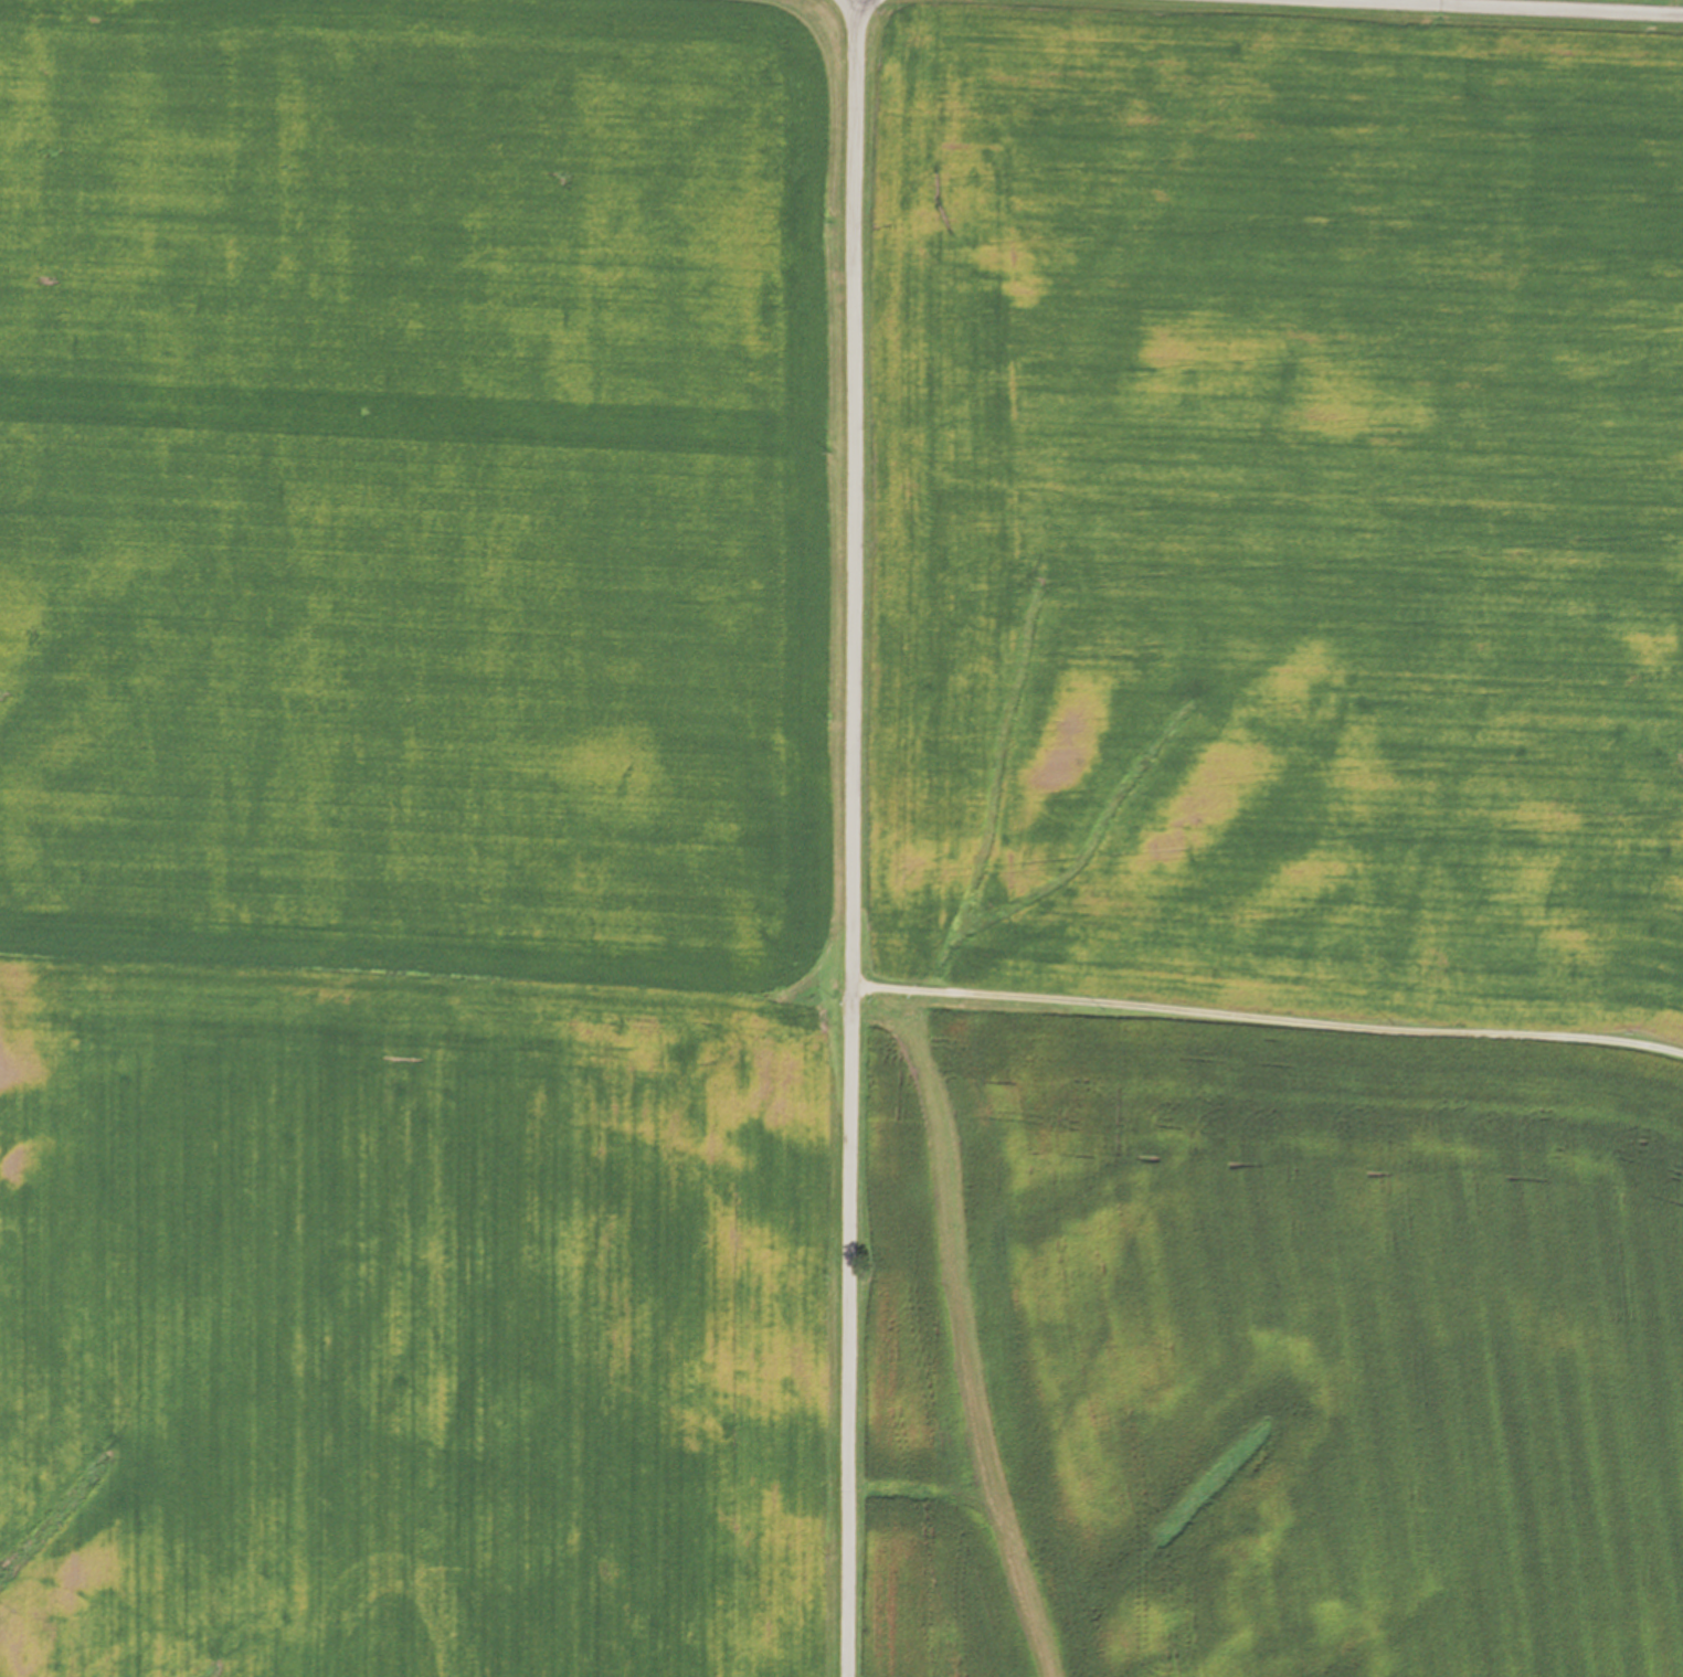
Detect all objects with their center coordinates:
road: (1553, 6)
road: (856, 838)
road: (1269, 1018)

